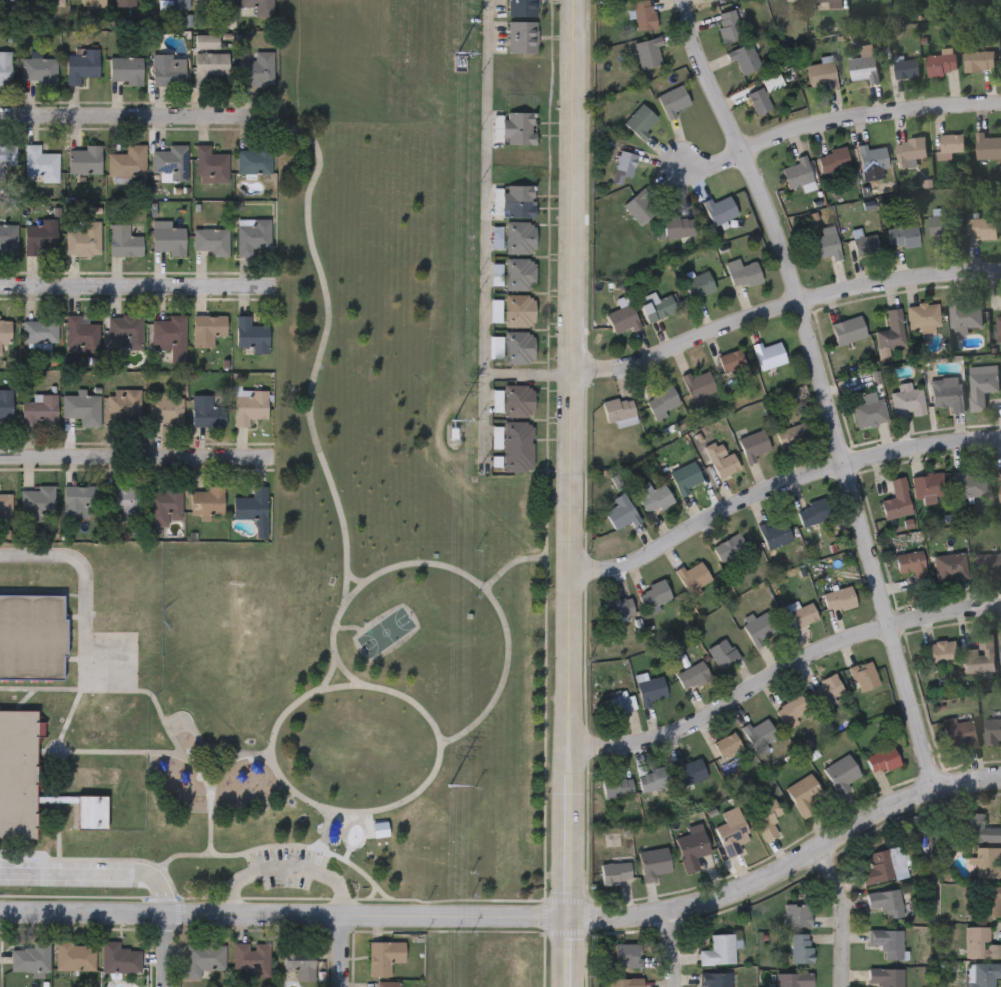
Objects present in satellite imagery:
building: (717, 0)
building: (10, 1)
building: (828, 1)
building: (215, 2)
building: (55, 3)
building: (98, 3)
building: (125, 3)
building: (173, 4)
building: (258, 6)
building: (522, 8)
building: (643, 15)
building: (728, 26)
building: (522, 36)
building: (646, 52)
building: (743, 58)
building: (978, 61)
power tower: (458, 63)
building: (81, 64)
building: (941, 65)
building: (209, 66)
building: (4, 67)
building: (864, 67)
building: (38, 68)
building: (126, 69)
building: (168, 69)
building: (256, 69)
building: (906, 69)
building: (822, 75)
building: (772, 82)
building: (673, 99)
building: (759, 101)
road: (139, 109)
road: (842, 112)
building: (641, 121)
building: (516, 127)
building: (950, 145)
building: (987, 146)
building: (911, 150)
road: (318, 152)
building: (4, 154)
building: (873, 159)
building: (84, 160)
building: (833, 160)
building: (253, 161)
building: (127, 162)
building: (170, 162)
building: (41, 164)
building: (210, 165)
building: (623, 168)
building: (518, 201)
building: (640, 209)
building: (719, 211)
building: (678, 227)
building: (943, 228)
building: (982, 228)
road: (486, 230)
building: (903, 235)
building: (252, 237)
building: (520, 237)
building: (41, 239)
building: (8, 240)
building: (83, 240)
building: (168, 240)
building: (123, 241)
building: (211, 241)
building: (866, 245)
building: (825, 247)
building: (520, 273)
building: (742, 274)
road: (133, 281)
building: (698, 285)
road: (783, 298)
building: (656, 307)
building: (519, 309)
building: (965, 313)
building: (923, 316)
building: (622, 318)
building: (998, 325)
building: (207, 329)
building: (5, 330)
building: (40, 330)
building: (125, 330)
building: (848, 330)
building: (892, 331)
building: (79, 333)
building: (250, 334)
building: (169, 336)
building: (518, 346)
building: (769, 354)
building: (731, 361)
road: (529, 372)
building: (698, 385)
road: (832, 385)
building: (981, 385)
building: (947, 393)
building: (519, 400)
building: (663, 402)
building: (907, 402)
building: (249, 405)
building: (123, 406)
building: (6, 408)
building: (81, 408)
building: (165, 408)
building: (40, 410)
road: (308, 410)
building: (619, 411)
building: (206, 412)
building: (870, 413)
power tower: (452, 416)
building: (792, 435)
building: (754, 445)
building: (516, 446)
road: (131, 454)
building: (725, 465)
building: (686, 477)
road: (779, 478)
building: (970, 483)
building: (928, 486)
road: (572, 493)
building: (1000, 494)
building: (653, 497)
building: (78, 498)
building: (206, 500)
building: (897, 500)
building: (121, 503)
building: (37, 504)
building: (163, 505)
building: (5, 507)
building: (253, 509)
building: (813, 513)
building: (620, 514)
building: (774, 532)
building: (731, 547)
road: (411, 559)
road: (506, 565)
building: (987, 565)
building: (912, 566)
building: (951, 567)
park: (366, 569)
building: (115, 572)
building: (693, 576)
building: (10, 577)
road: (82, 583)
building: (152, 584)
building: (654, 594)
building: (115, 595)
road: (347, 597)
building: (839, 598)
road: (405, 606)
building: (617, 607)
building: (800, 614)
building: (115, 622)
road: (333, 622)
building: (760, 630)
building: (152, 635)
building: (31, 637)
road: (356, 640)
building: (940, 653)
building: (723, 654)
road: (782, 661)
building: (976, 661)
road: (340, 665)
road: (327, 669)
road: (501, 674)
building: (693, 676)
building: (864, 676)
building: (828, 688)
building: (651, 690)
building: (791, 708)
building: (100, 711)
road: (430, 719)
building: (959, 732)
building: (993, 732)
building: (759, 734)
building: (97, 739)
building: (728, 746)
building: (883, 760)
building: (691, 771)
building: (843, 775)
building: (97, 776)
building: (654, 780)
building: (31, 781)
power tower: (449, 786)
building: (617, 787)
building: (806, 796)
building: (766, 819)
building: (978, 829)
building: (733, 835)
building: (694, 851)
road: (342, 857)
building: (987, 862)
building: (656, 864)
road: (287, 867)
building: (878, 868)
road: (97, 872)
building: (616, 872)
road: (372, 892)
building: (883, 901)
building: (992, 901)
road: (850, 909)
building: (796, 915)
road: (515, 916)
building: (886, 942)
building: (980, 944)
road: (670, 948)
building: (800, 948)
road: (171, 949)
road: (347, 950)
building: (718, 951)
building: (627, 955)
building: (75, 956)
building: (384, 957)
building: (31, 958)
building: (119, 958)
building: (204, 958)
building: (252, 958)
building: (301, 965)
building: (982, 974)
building: (885, 977)
building: (714, 979)
building: (793, 980)
building: (625, 982)
building: (387, 984)

